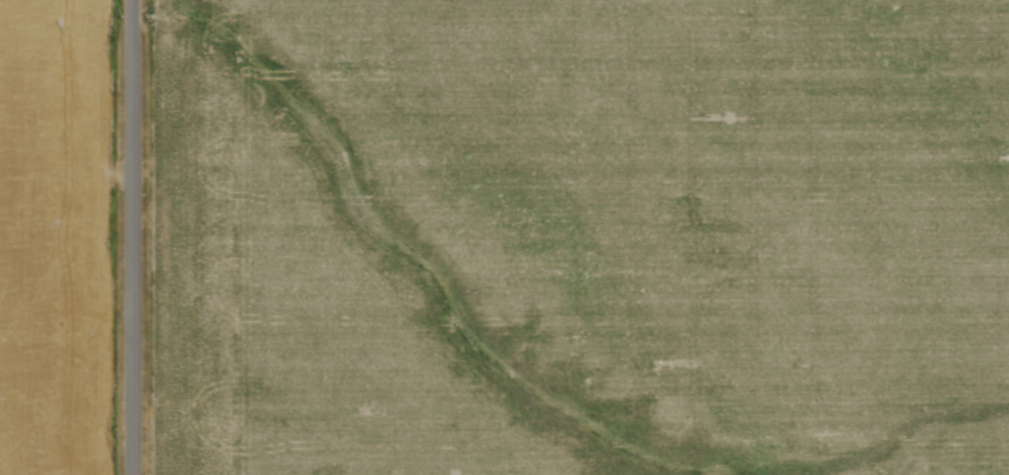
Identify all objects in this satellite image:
road: (132, 237)

